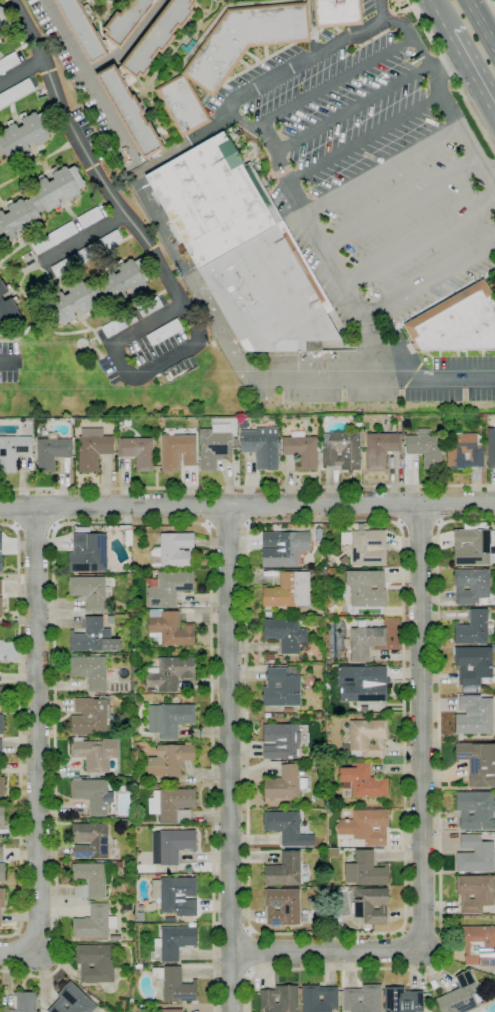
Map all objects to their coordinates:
road: (492, 3)
road: (379, 9)
building: (337, 13)
road: (437, 17)
building: (126, 20)
building: (4, 22)
road: (480, 24)
building: (81, 30)
road: (491, 35)
building: (157, 37)
building: (244, 40)
road: (128, 43)
building: (108, 44)
building: (8, 62)
road: (445, 68)
road: (21, 71)
road: (452, 74)
road: (471, 77)
road: (91, 82)
road: (331, 84)
building: (15, 92)
building: (205, 99)
building: (182, 105)
road: (348, 109)
building: (129, 112)
road: (232, 113)
building: (25, 134)
road: (365, 139)
road: (186, 143)
road: (87, 157)
road: (382, 170)
parking lot: (369, 172)
road: (492, 178)
building: (39, 202)
road: (400, 203)
building: (90, 217)
road: (83, 237)
building: (54, 238)
road: (419, 238)
building: (109, 240)
building: (242, 248)
building: (74, 260)
building: (96, 292)
building: (149, 306)
building: (7, 307)
building: (457, 322)
building: (119, 324)
building: (164, 332)
road: (364, 346)
parking lot: (144, 350)
parking lot: (8, 361)
road: (4, 363)
road: (252, 375)
road: (129, 378)
parking lot: (455, 381)
building: (397, 417)
building: (448, 423)
building: (242, 424)
building: (261, 446)
building: (93, 448)
building: (212, 448)
building: (380, 448)
building: (491, 448)
building: (301, 449)
building: (425, 449)
building: (341, 450)
building: (464, 450)
building: (13, 451)
building: (137, 451)
building: (177, 451)
building: (51, 452)
road: (247, 487)
road: (401, 504)
road: (440, 504)
road: (247, 505)
road: (252, 505)
road: (207, 506)
road: (17, 509)
road: (53, 509)
road: (122, 523)
road: (420, 523)
road: (226, 526)
building: (292, 526)
road: (36, 528)
building: (82, 529)
building: (128, 537)
building: (0, 542)
building: (474, 545)
building: (283, 548)
building: (368, 548)
building: (173, 551)
building: (88, 553)
building: (0, 563)
building: (471, 585)
building: (0, 587)
building: (169, 588)
building: (366, 588)
building: (289, 589)
building: (89, 591)
building: (1, 606)
building: (137, 611)
building: (267, 614)
building: (110, 619)
building: (169, 628)
building: (473, 628)
building: (285, 635)
building: (93, 637)
building: (363, 641)
building: (1, 650)
building: (269, 657)
building: (473, 664)
building: (90, 672)
building: (170, 673)
building: (308, 683)
building: (362, 683)
building: (282, 687)
building: (468, 689)
building: (150, 691)
building: (1, 695)
building: (288, 710)
building: (92, 716)
building: (474, 716)
building: (169, 719)
building: (1, 724)
road: (36, 727)
road: (20, 732)
building: (367, 738)
building: (282, 740)
building: (1, 746)
building: (95, 754)
road: (229, 758)
building: (169, 759)
building: (478, 763)
building: (152, 781)
building: (362, 782)
building: (285, 784)
building: (157, 786)
building: (2, 787)
building: (92, 795)
building: (172, 805)
building: (475, 810)
building: (2, 818)
building: (75, 820)
building: (136, 822)
building: (129, 823)
road: (422, 823)
building: (366, 826)
building: (287, 828)
road: (439, 835)
building: (89, 840)
building: (171, 846)
building: (332, 852)
building: (1, 854)
building: (475, 854)
building: (118, 864)
building: (366, 870)
building: (284, 871)
building: (2, 873)
building: (89, 880)
building: (475, 893)
building: (178, 896)
building: (2, 898)
building: (370, 904)
building: (282, 907)
building: (126, 908)
building: (139, 917)
building: (0, 920)
building: (92, 920)
road: (403, 926)
road: (233, 932)
building: (115, 937)
building: (103, 941)
building: (175, 941)
building: (98, 942)
building: (479, 945)
road: (252, 951)
road: (17, 953)
building: (96, 963)
building: (138, 966)
building: (136, 971)
road: (232, 971)
building: (481, 983)
building: (173, 984)
building: (460, 995)
building: (318, 998)
building: (279, 999)
building: (362, 999)
building: (72, 1000)
building: (403, 1000)
building: (24, 1002)
building: (146, 1008)
building: (170, 1010)

